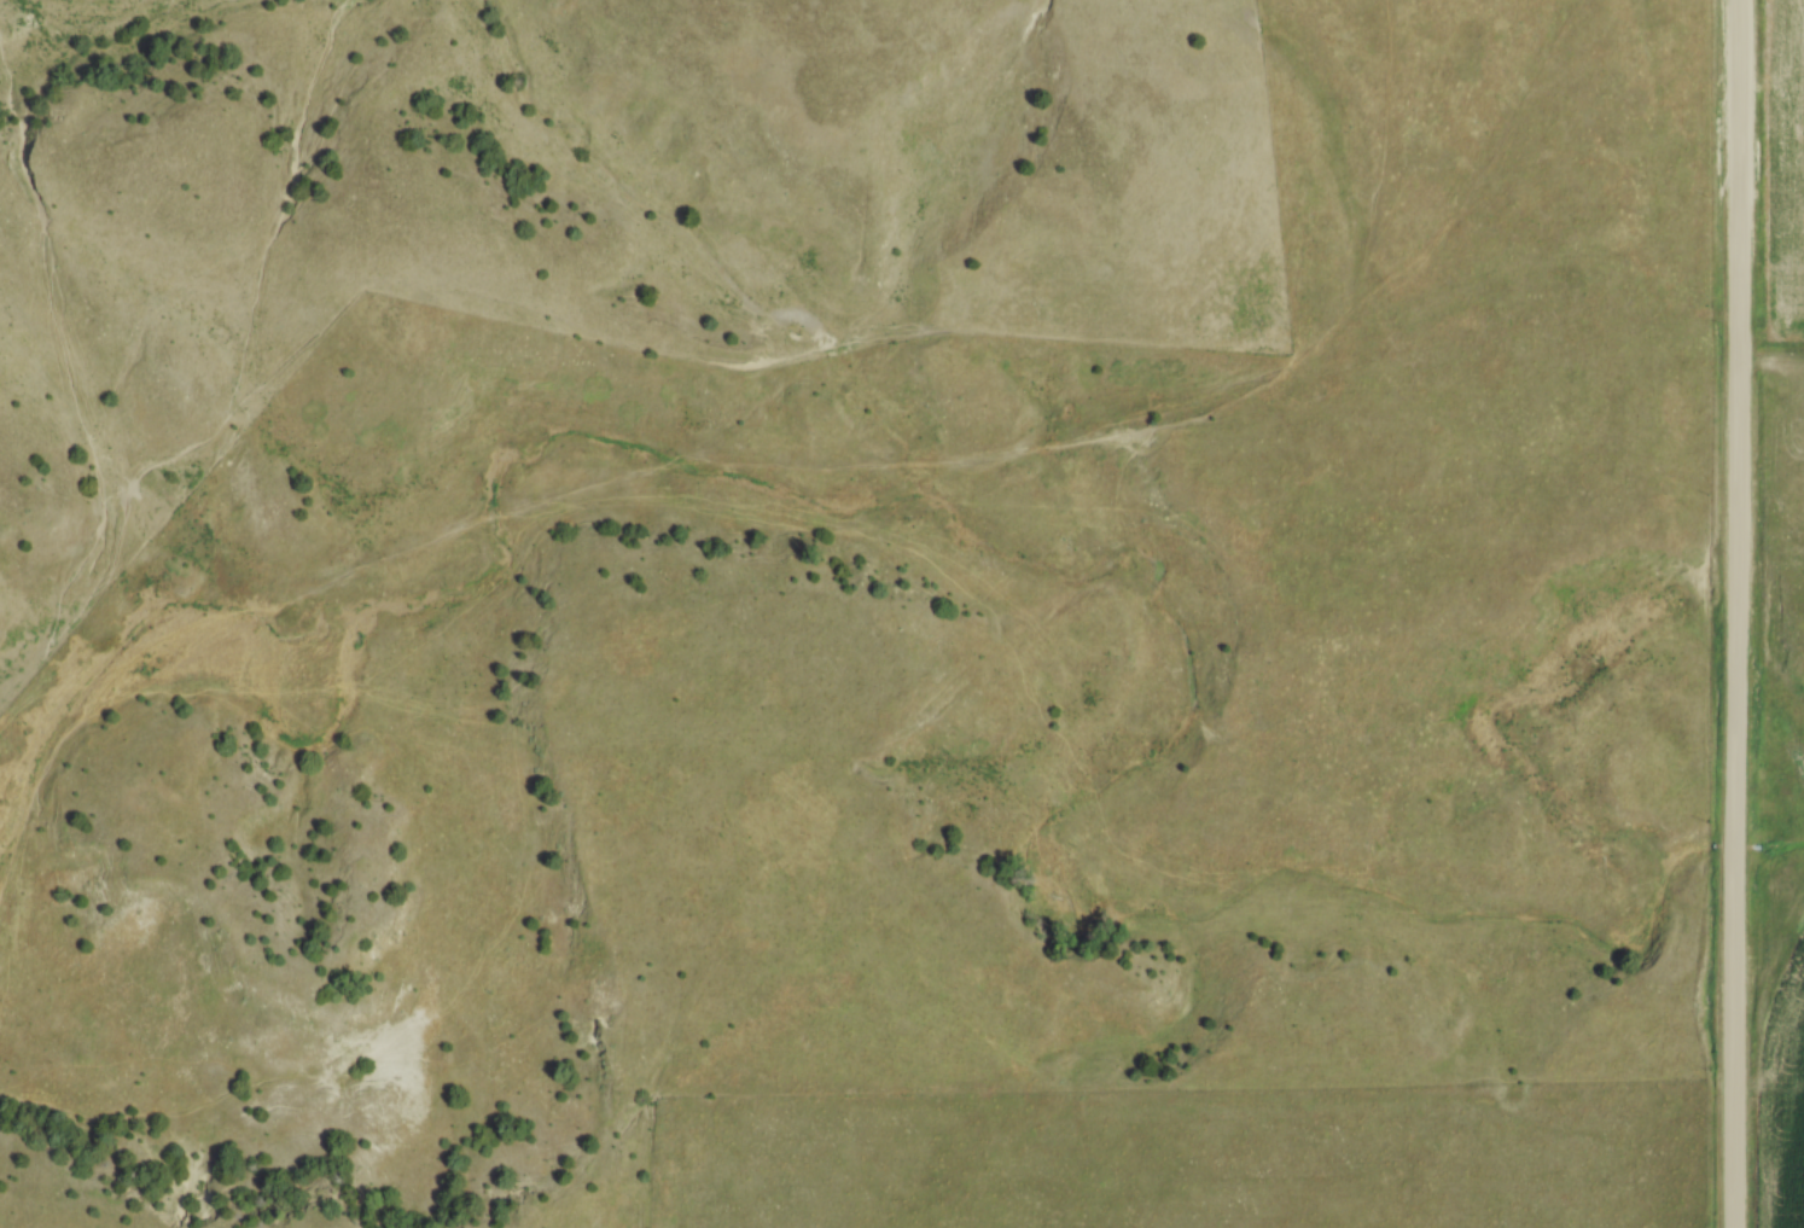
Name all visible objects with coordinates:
road: (1735, 613)

